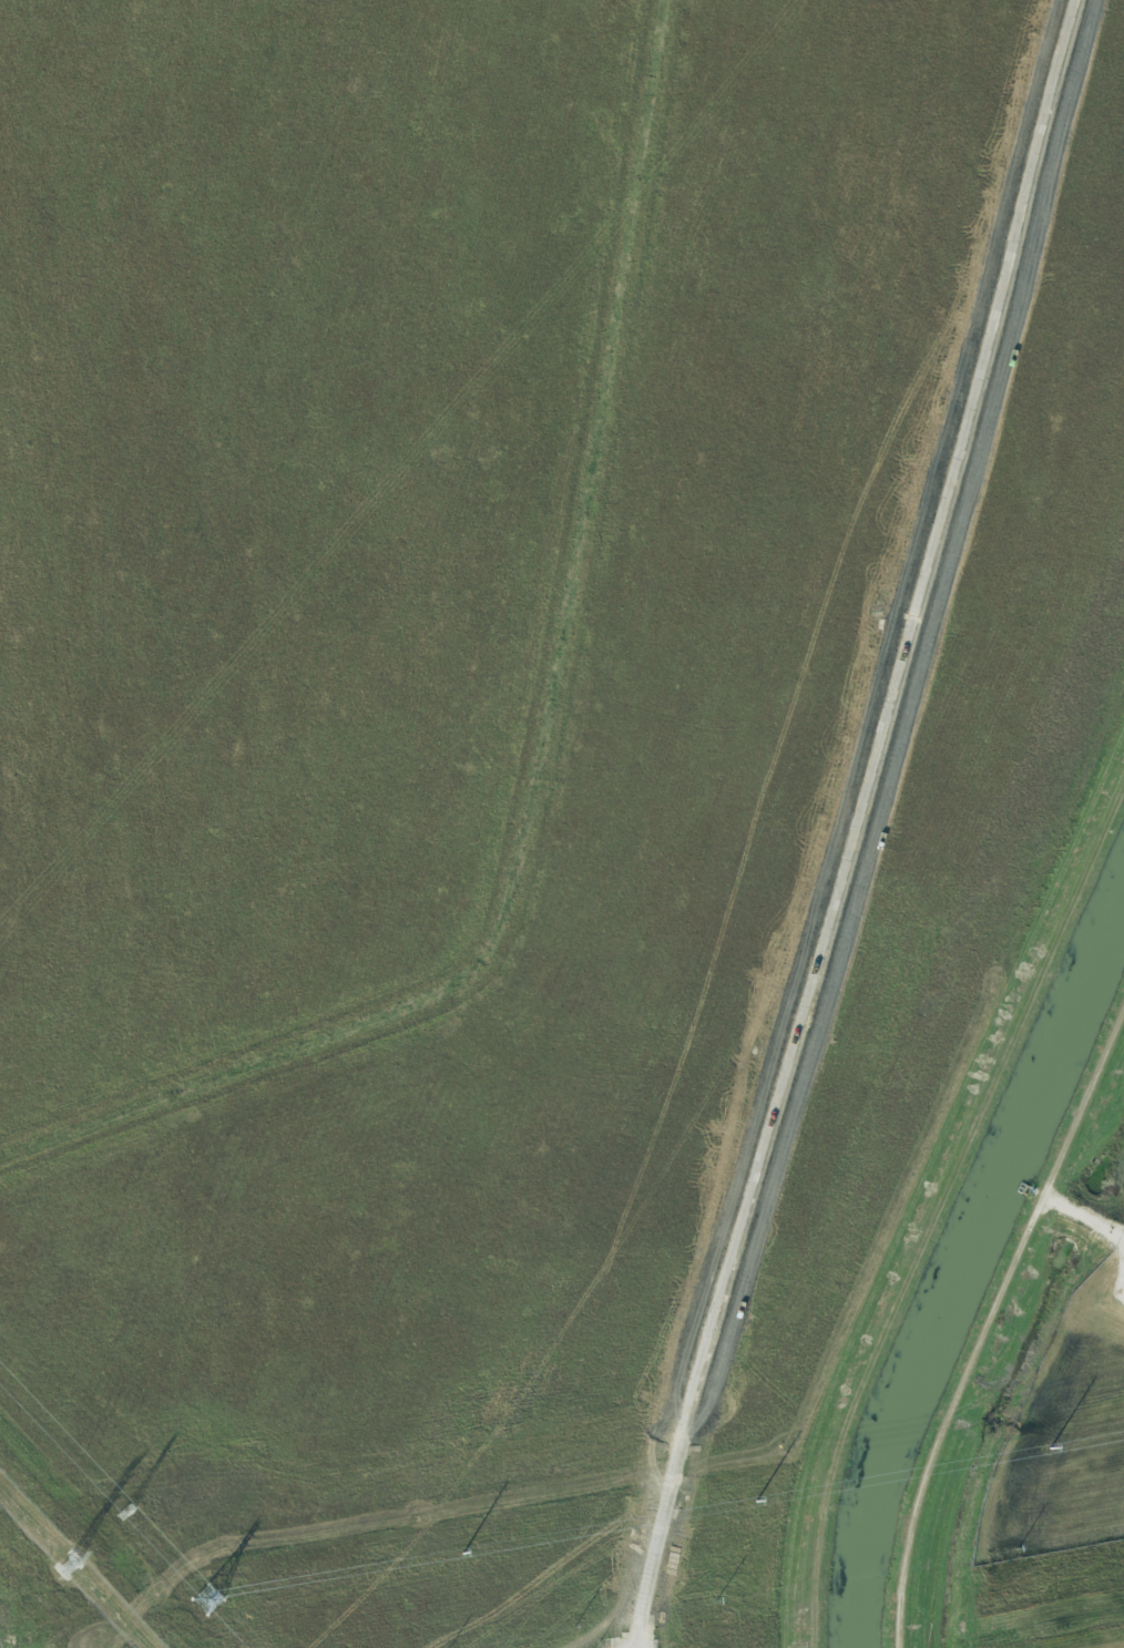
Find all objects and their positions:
power tower: (123, 1512)
power tower: (65, 1565)

